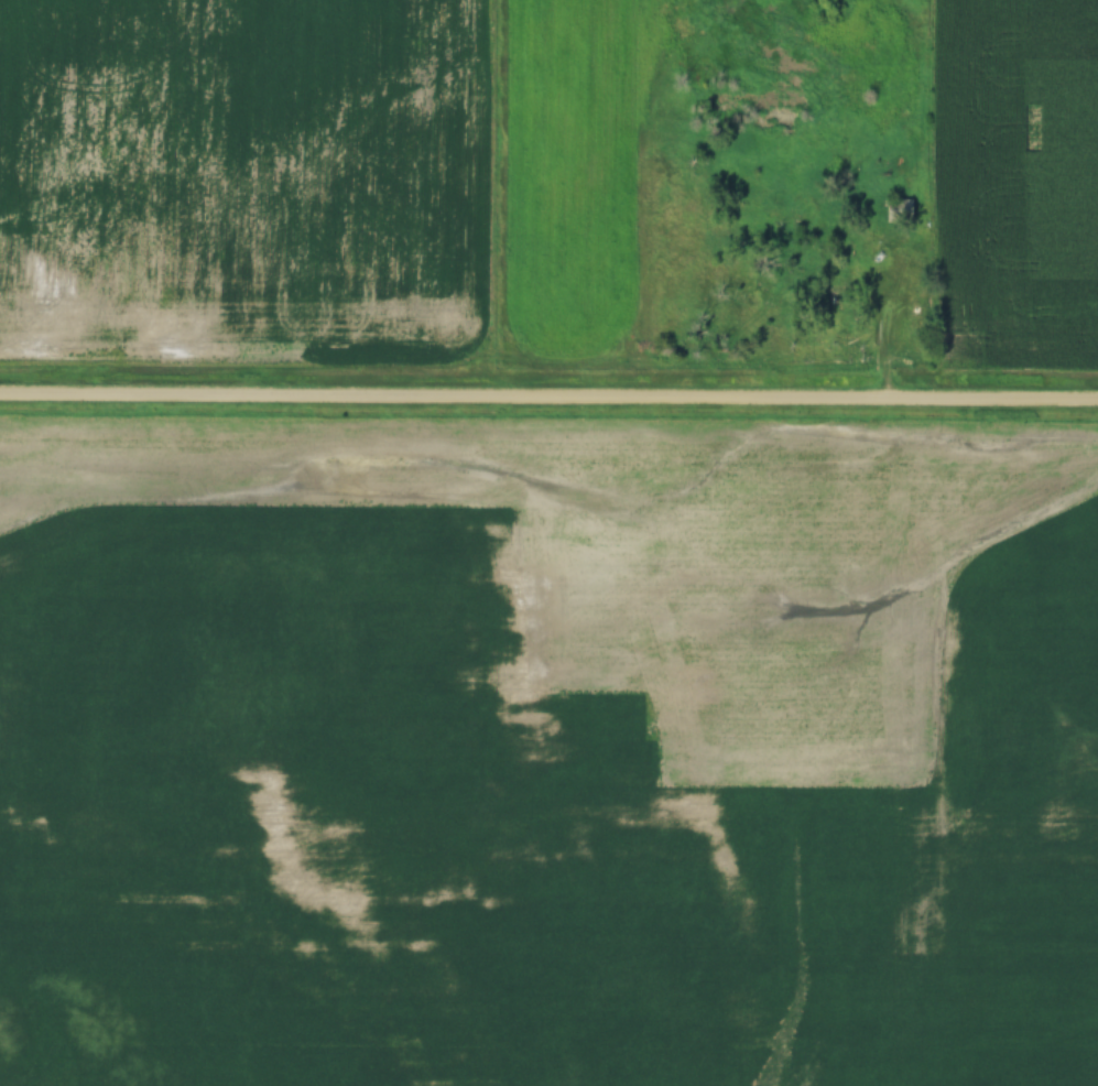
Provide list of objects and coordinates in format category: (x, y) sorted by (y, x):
road: (548, 391)

